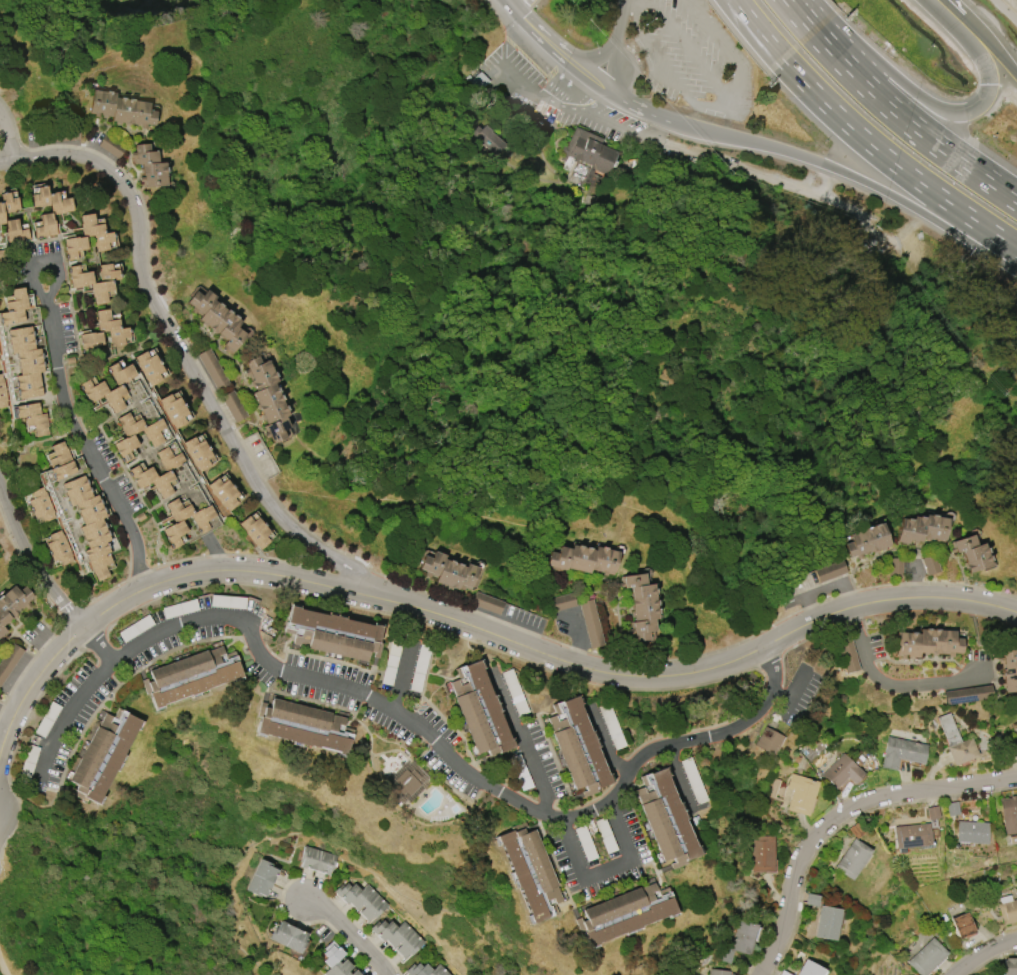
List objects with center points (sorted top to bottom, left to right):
road: (940, 3)
road: (513, 5)
road: (523, 5)
road: (1005, 11)
road: (797, 17)
road: (621, 19)
road: (757, 31)
road: (542, 36)
road: (982, 39)
road: (683, 45)
road: (597, 57)
road: (613, 65)
road: (588, 76)
road: (524, 86)
road: (561, 104)
road: (716, 107)
road: (636, 108)
building: (121, 109)
road: (942, 109)
road: (609, 124)
road: (909, 124)
road: (12, 133)
building: (488, 139)
building: (109, 146)
building: (589, 152)
road: (893, 163)
building: (149, 166)
road: (850, 175)
building: (57, 212)
building: (2, 215)
building: (103, 237)
building: (2, 257)
building: (101, 284)
building: (14, 307)
building: (216, 318)
building: (118, 331)
road: (186, 357)
building: (0, 359)
building: (26, 362)
building: (149, 367)
building: (212, 369)
building: (93, 388)
building: (2, 393)
road: (62, 397)
building: (267, 398)
building: (233, 406)
building: (173, 410)
building: (33, 417)
building: (154, 438)
building: (198, 453)
building: (60, 462)
building: (142, 474)
building: (224, 493)
building: (41, 505)
building: (89, 525)
building: (176, 525)
building: (922, 528)
building: (255, 531)
building: (867, 541)
building: (59, 548)
building: (971, 553)
road: (32, 555)
building: (584, 559)
building: (930, 565)
building: (895, 567)
road: (253, 571)
building: (448, 571)
building: (830, 571)
building: (562, 602)
building: (12, 603)
building: (487, 603)
building: (640, 605)
road: (974, 609)
road: (101, 613)
building: (591, 624)
building: (333, 634)
road: (578, 640)
building: (926, 643)
road: (99, 644)
road: (484, 650)
building: (848, 656)
road: (979, 661)
building: (9, 662)
building: (420, 667)
building: (1008, 669)
road: (704, 671)
building: (190, 675)
road: (412, 677)
road: (894, 681)
road: (32, 683)
road: (799, 689)
building: (968, 694)
building: (480, 711)
road: (71, 718)
building: (304, 726)
building: (1016, 740)
building: (769, 741)
building: (955, 741)
road: (532, 746)
road: (614, 746)
building: (577, 747)
building: (901, 752)
building: (102, 755)
road: (474, 771)
building: (842, 771)
road: (688, 777)
building: (406, 782)
building: (801, 793)
building: (932, 812)
building: (1008, 814)
road: (839, 816)
building: (665, 819)
building: (971, 832)
building: (912, 836)
building: (762, 853)
building: (852, 859)
building: (317, 860)
building: (530, 871)
road: (619, 876)
building: (261, 878)
building: (347, 891)
building: (362, 898)
building: (372, 908)
building: (1007, 909)
building: (623, 913)
building: (827, 923)
building: (962, 926)
building: (382, 929)
road: (349, 933)
building: (398, 934)
building: (743, 936)
building: (289, 937)
building: (408, 945)
building: (332, 954)
road: (988, 954)
building: (927, 957)
road: (4, 960)
building: (1009, 966)
building: (338, 968)
building: (808, 969)
building: (418, 970)
building: (438, 971)
building: (718, 972)
building: (352, 973)

